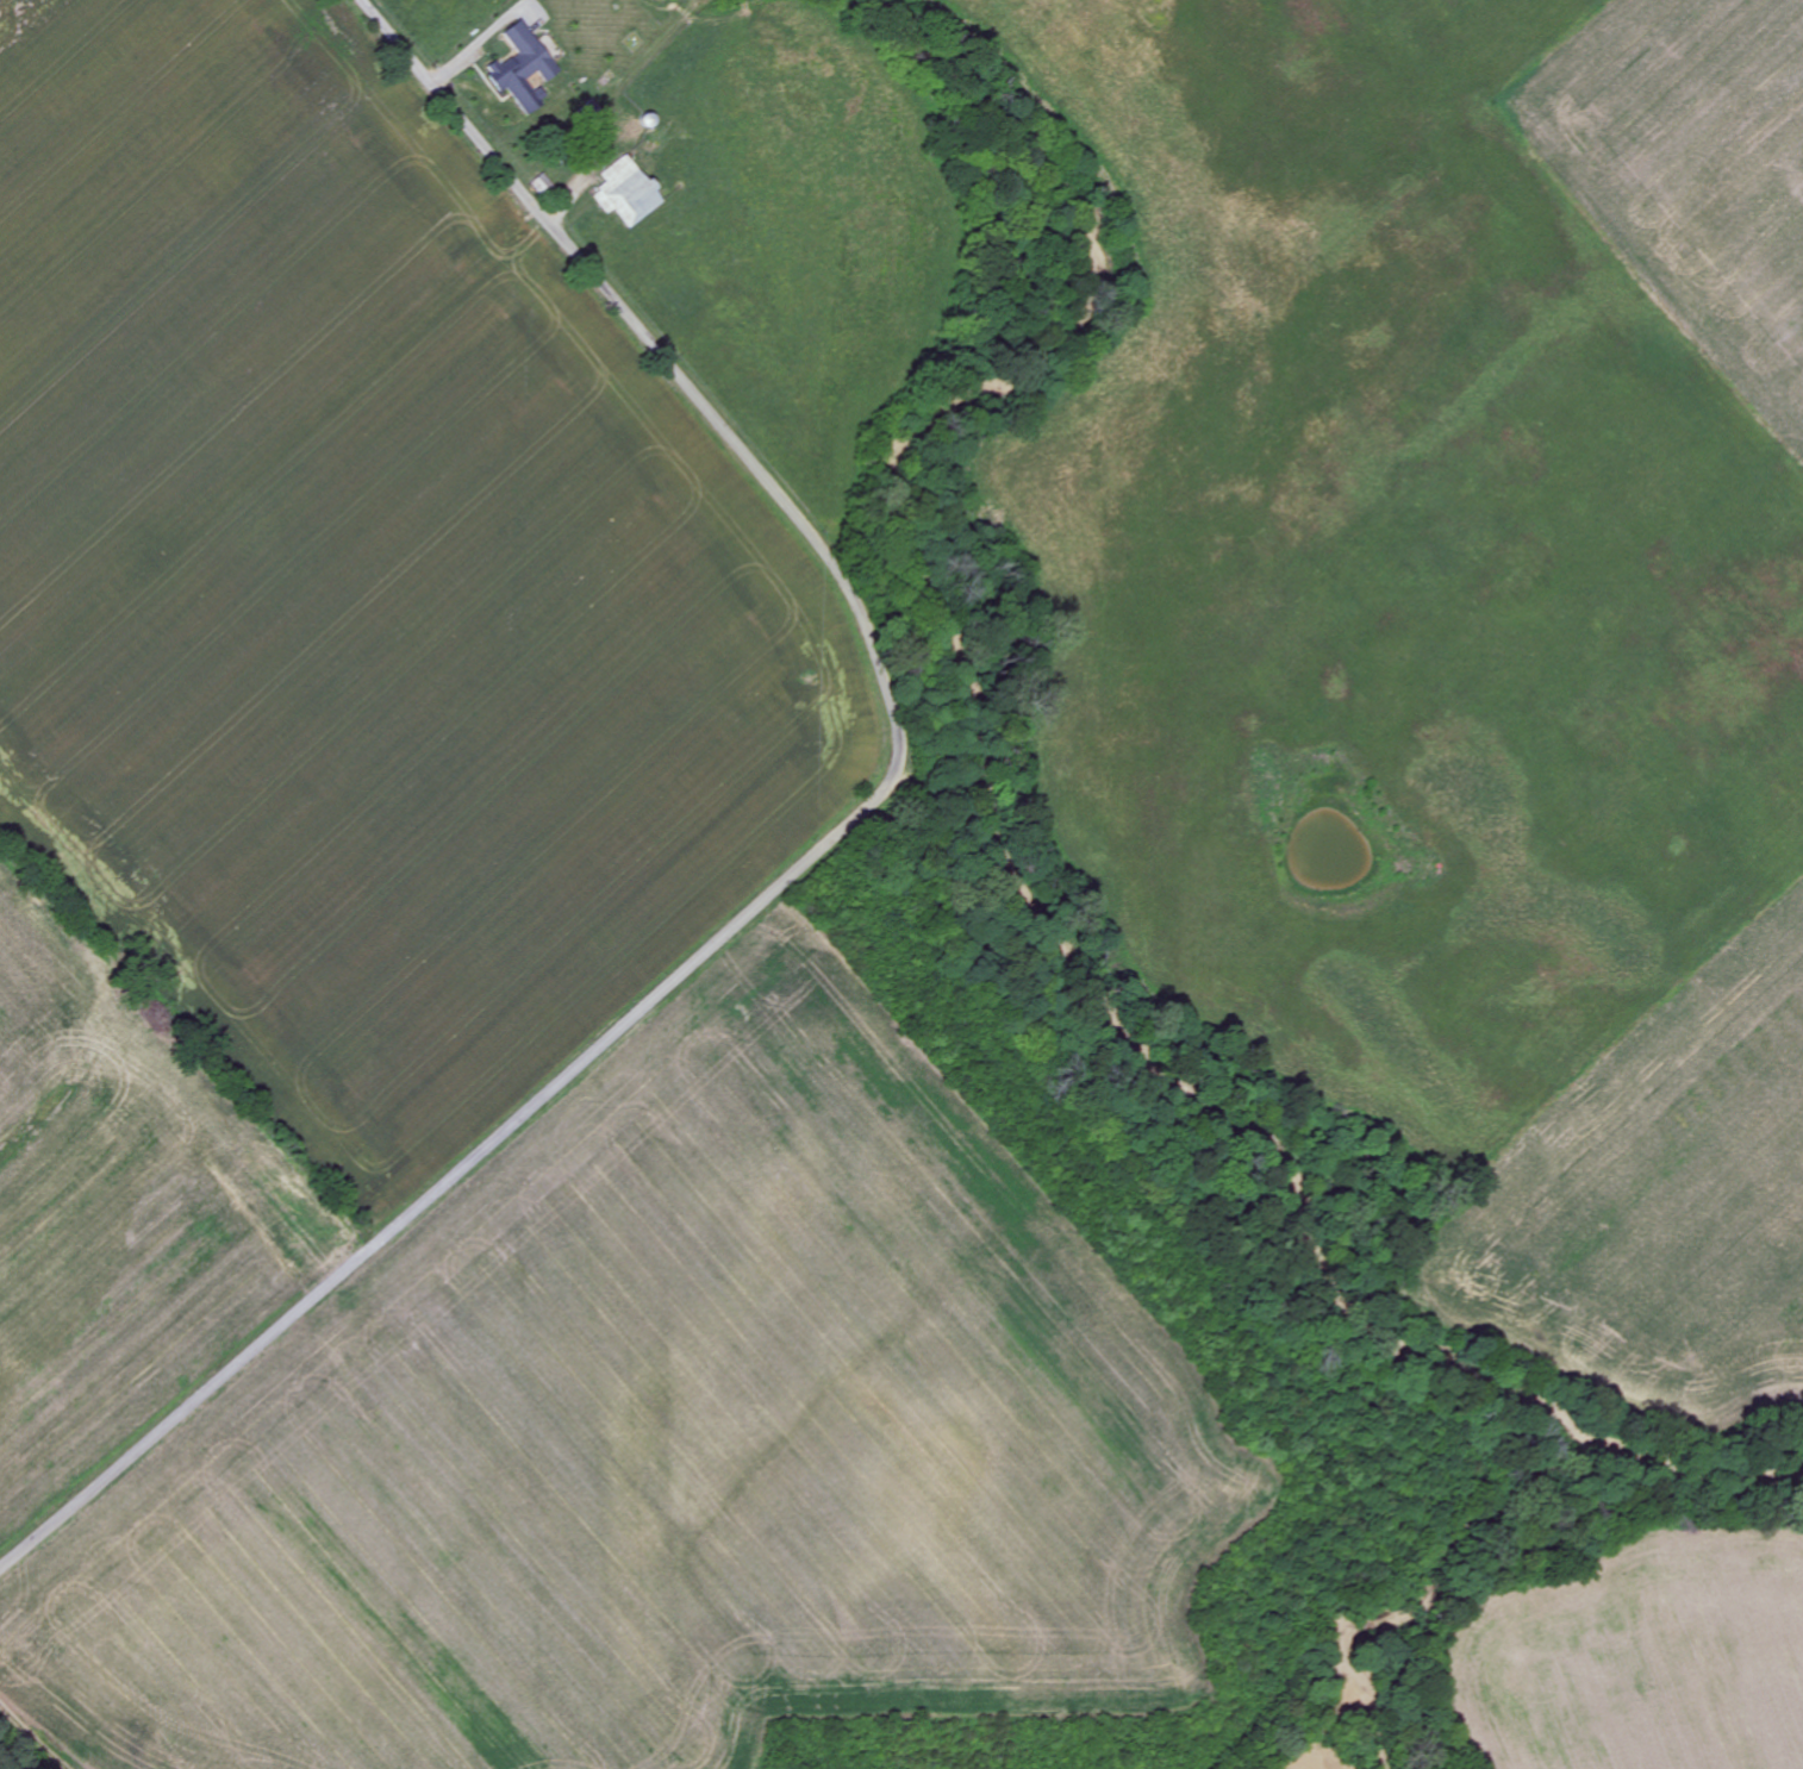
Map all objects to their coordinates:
building: (523, 69)
building: (592, 111)
building: (626, 194)
road: (806, 856)

